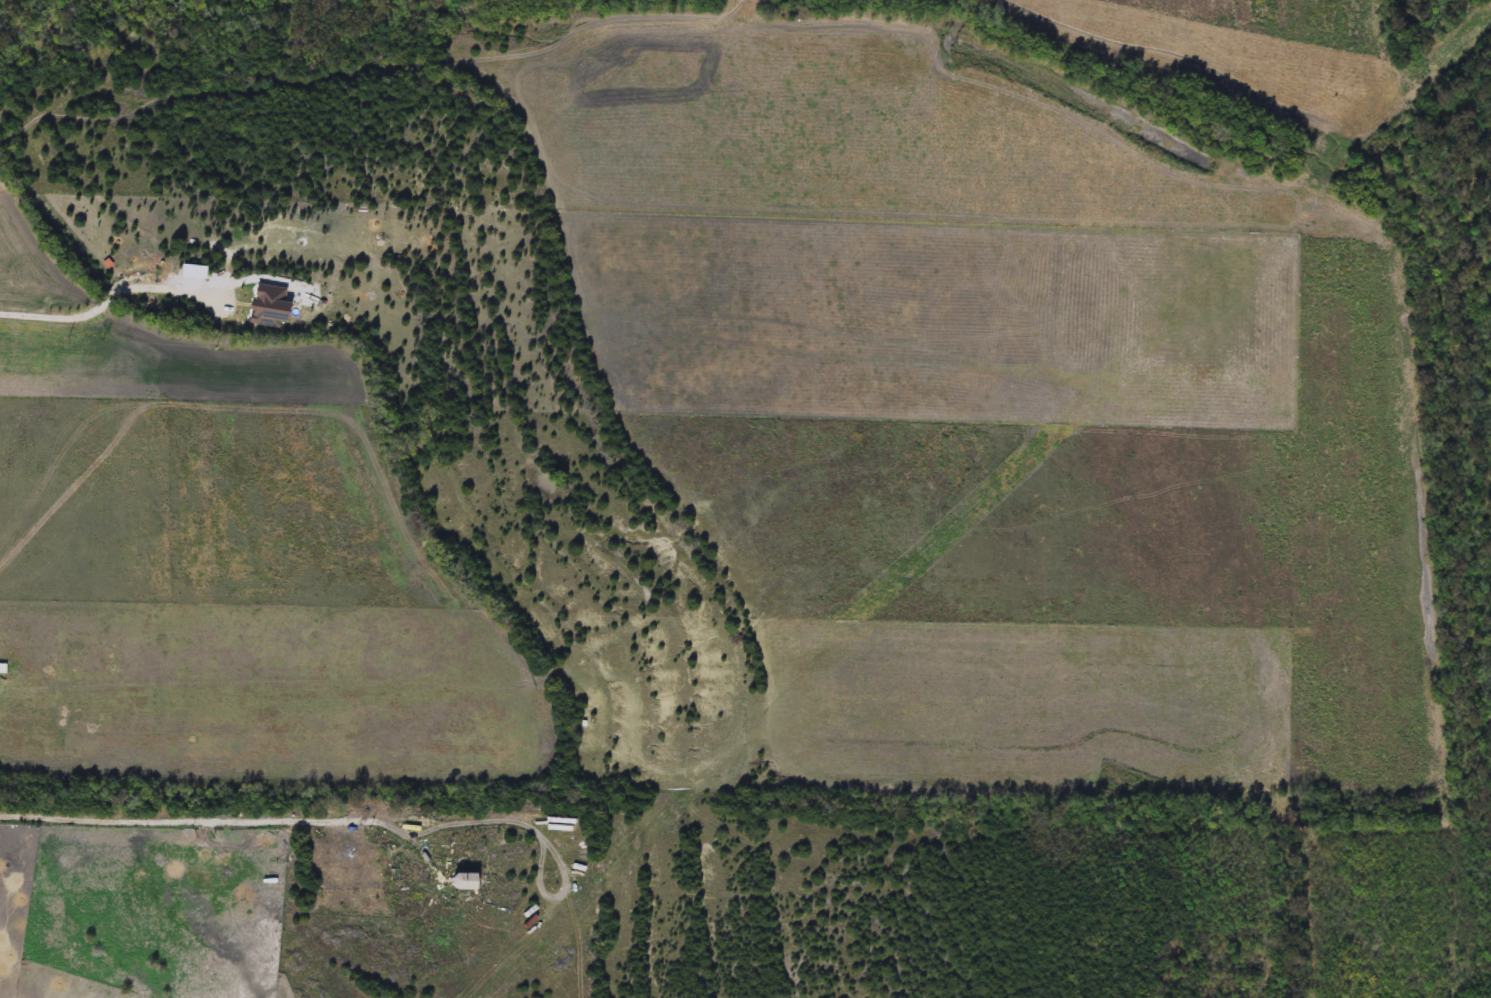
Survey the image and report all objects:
road: (117, 276)

